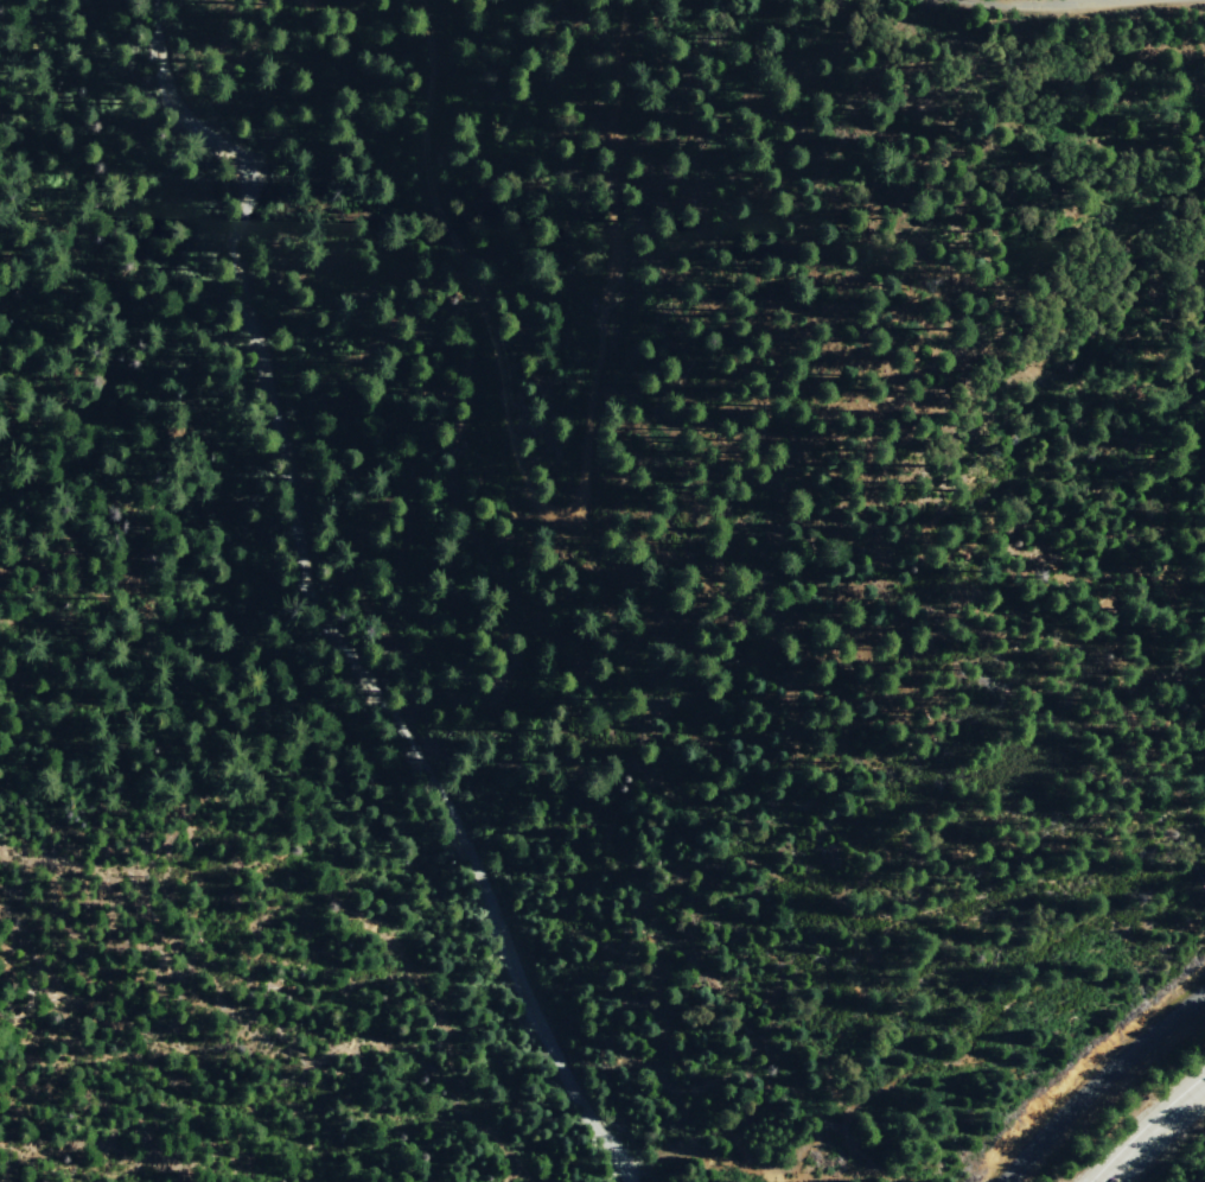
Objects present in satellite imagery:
road: (1003, 1)
road: (1019, 1)
road: (319, 610)
road: (1096, 1079)
road: (1150, 1132)

